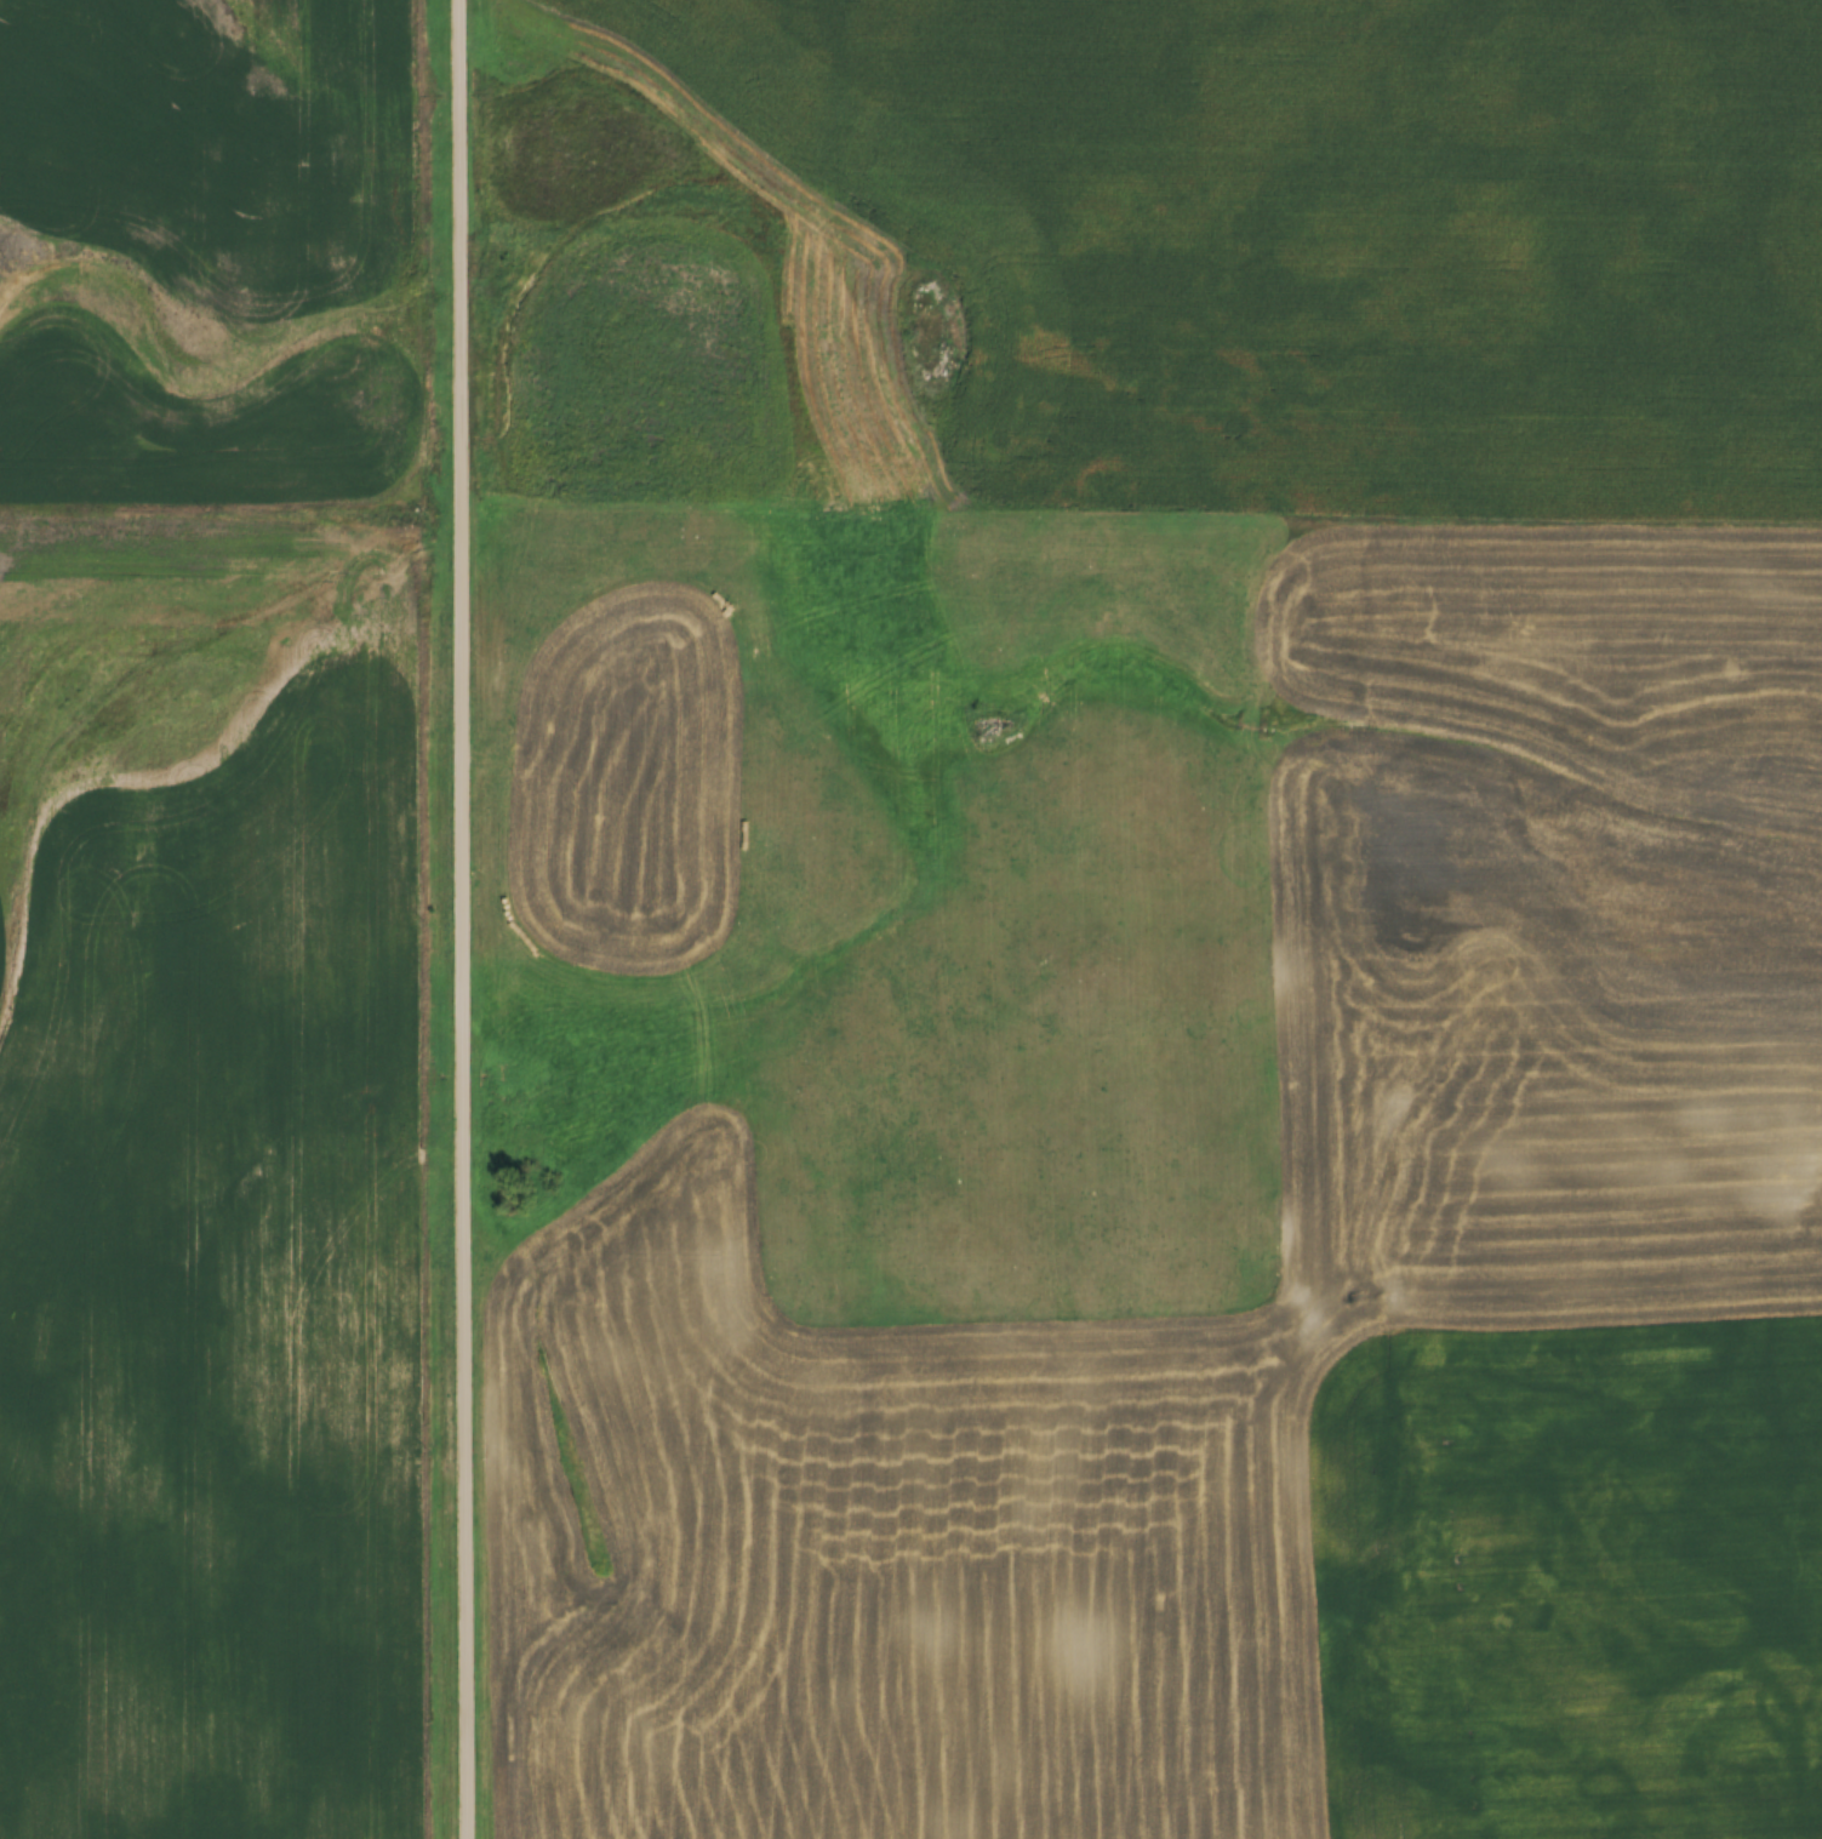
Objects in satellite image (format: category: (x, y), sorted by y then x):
road: (464, 919)
building: (74, 1210)

